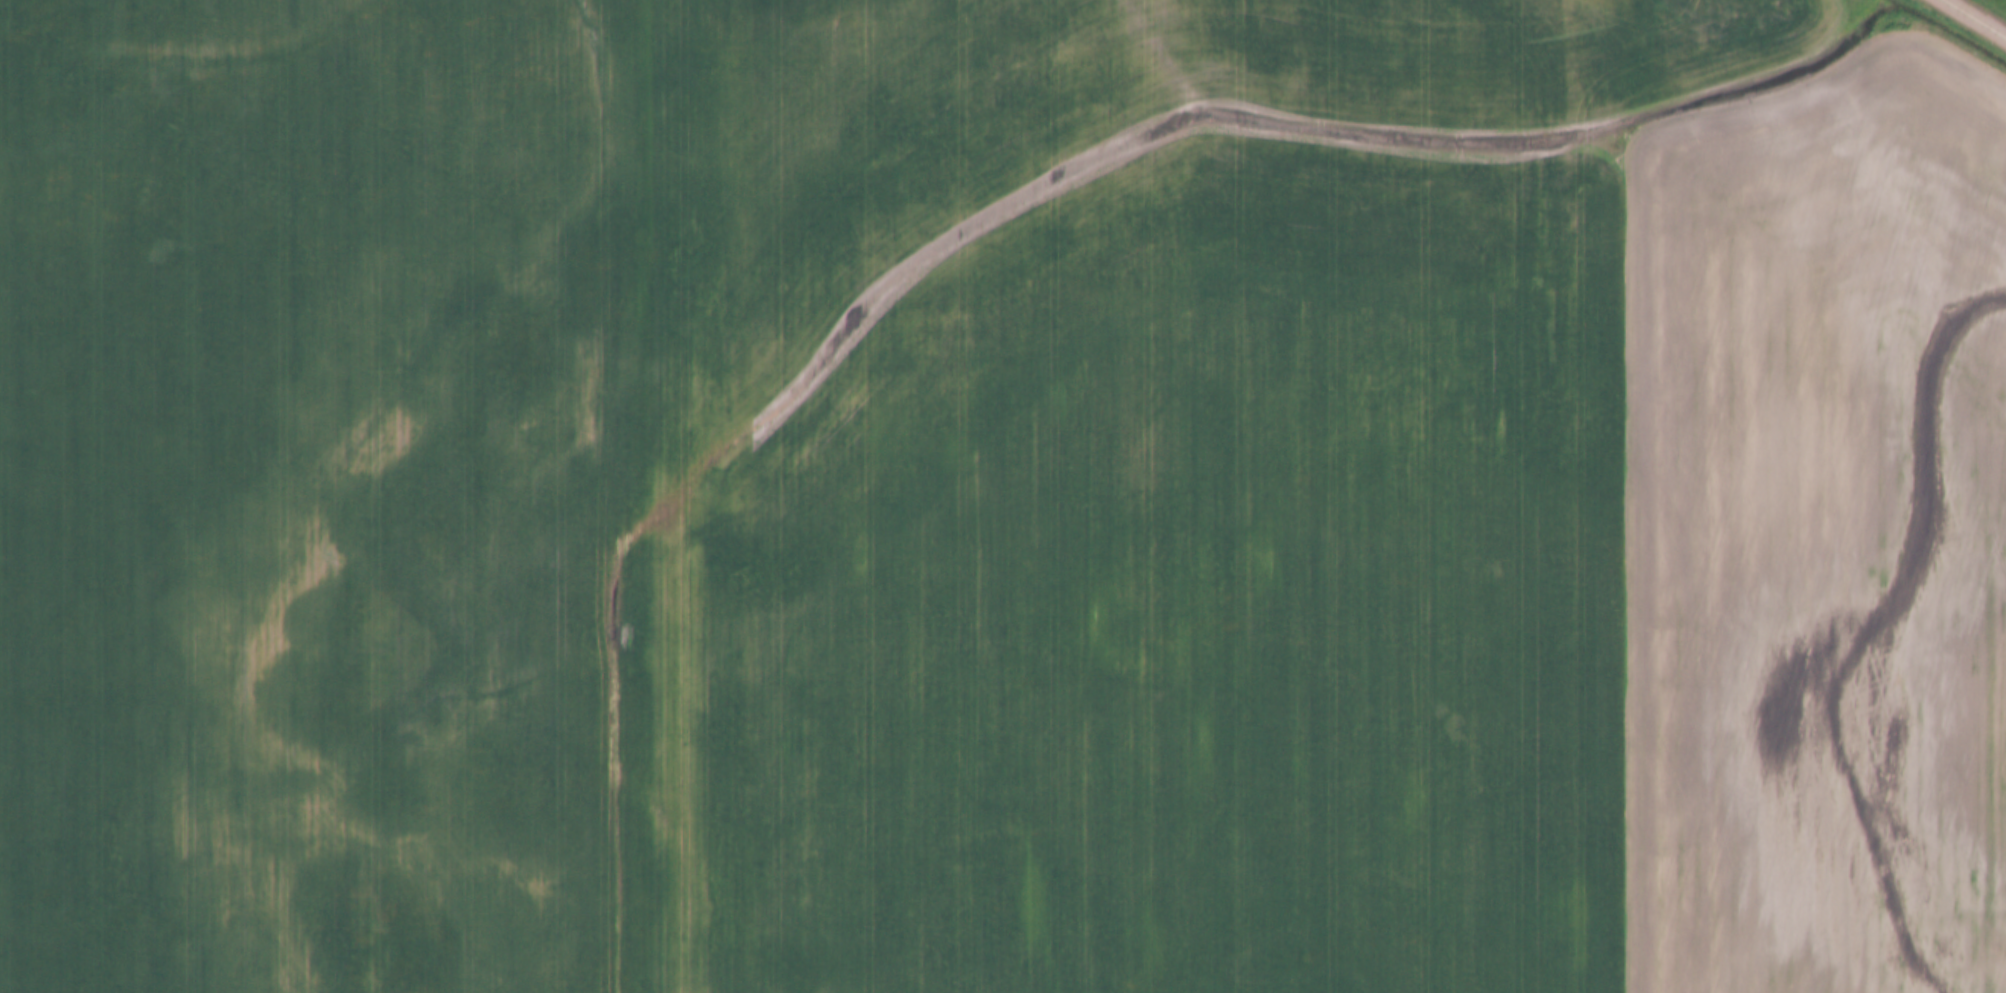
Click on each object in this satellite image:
railway: (1977, 17)

